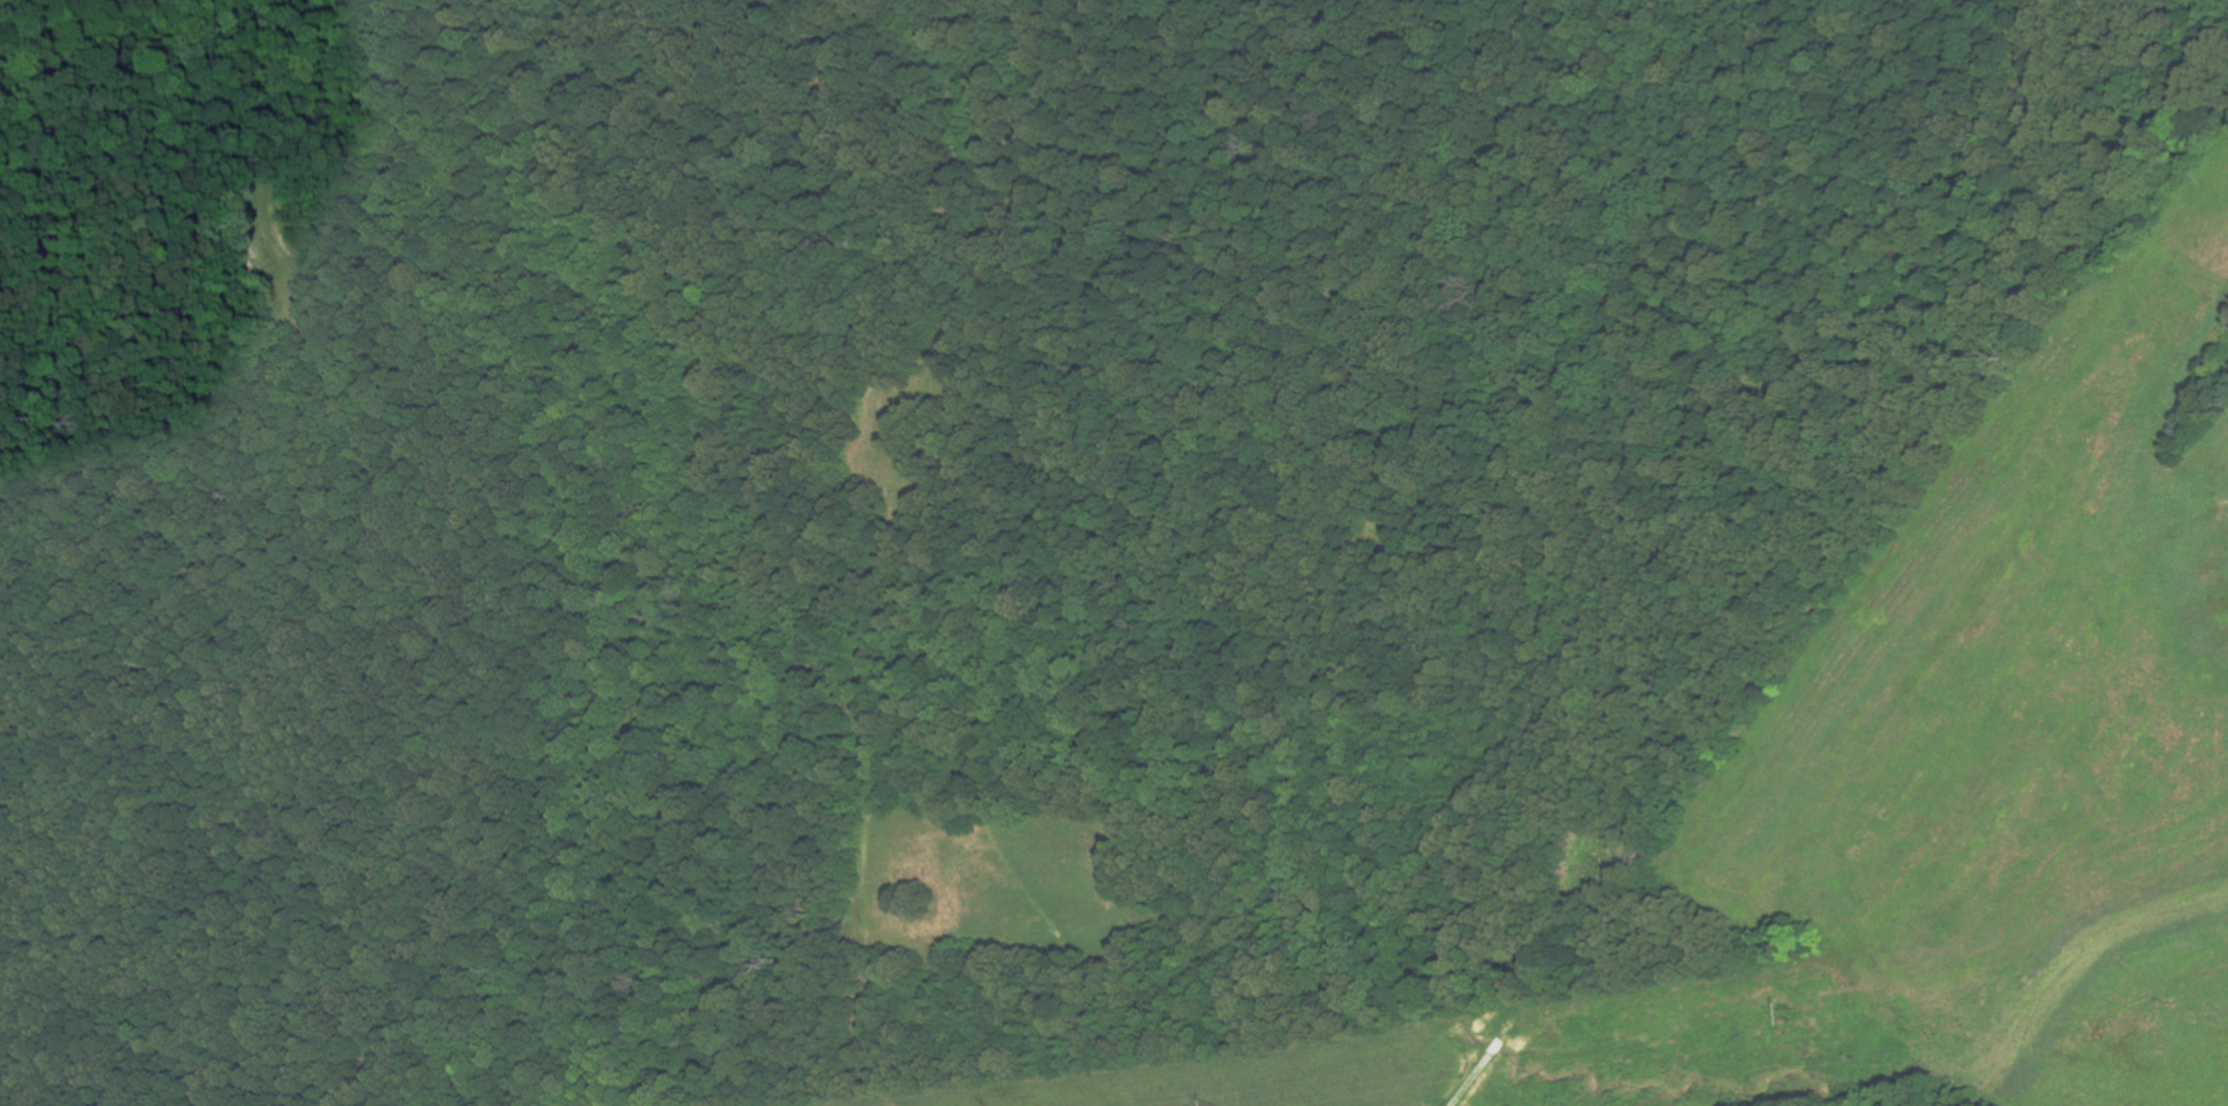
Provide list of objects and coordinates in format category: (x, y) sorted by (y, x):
power tower: (1790, 1016)
power tower: (1217, 1104)

